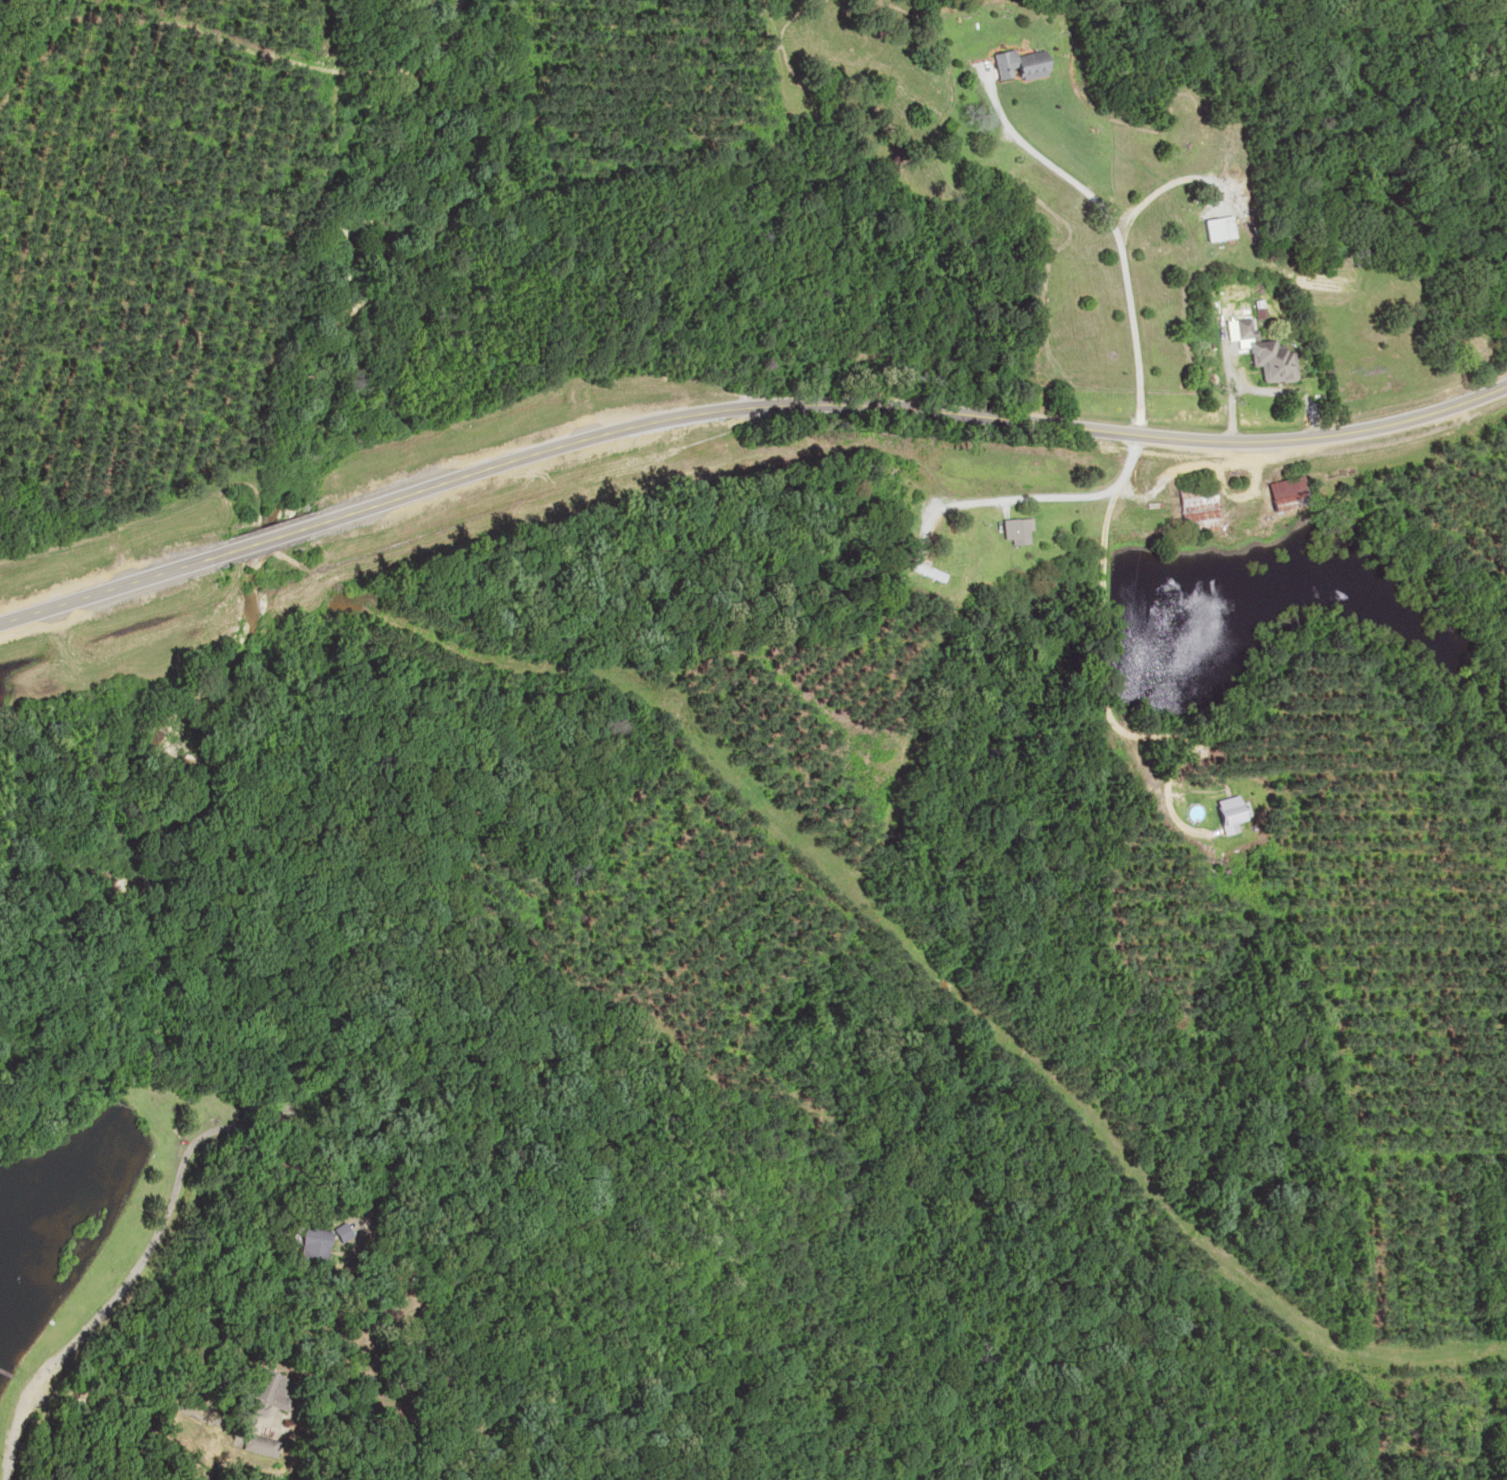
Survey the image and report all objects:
building: (1018, 64)
building: (1241, 328)
building: (1269, 361)
road: (742, 405)
building: (1282, 491)
road: (1101, 502)
building: (1192, 506)
building: (1010, 529)
building: (920, 569)
building: (1226, 811)
building: (336, 1231)
building: (308, 1244)
building: (266, 1389)
building: (256, 1444)

